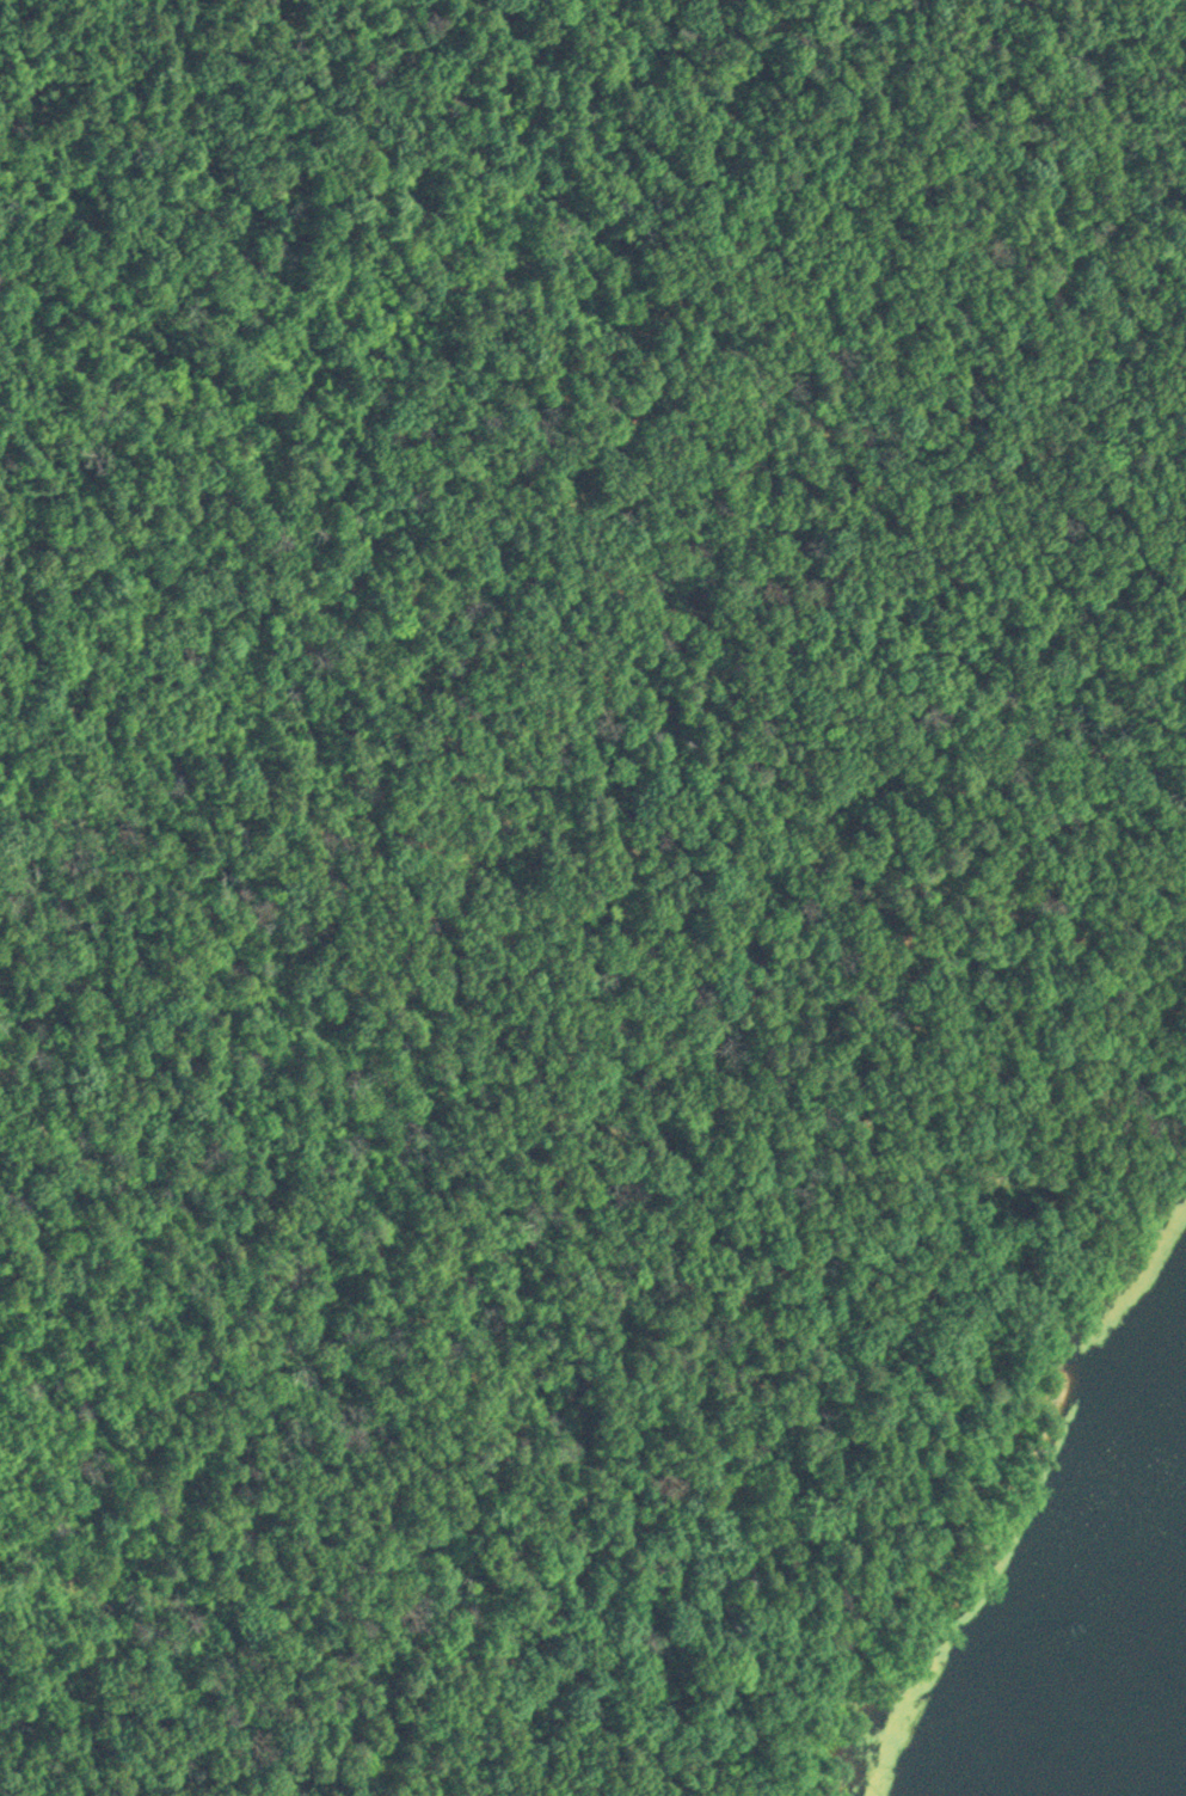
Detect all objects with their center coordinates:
road: (978, 295)
road: (942, 1416)

